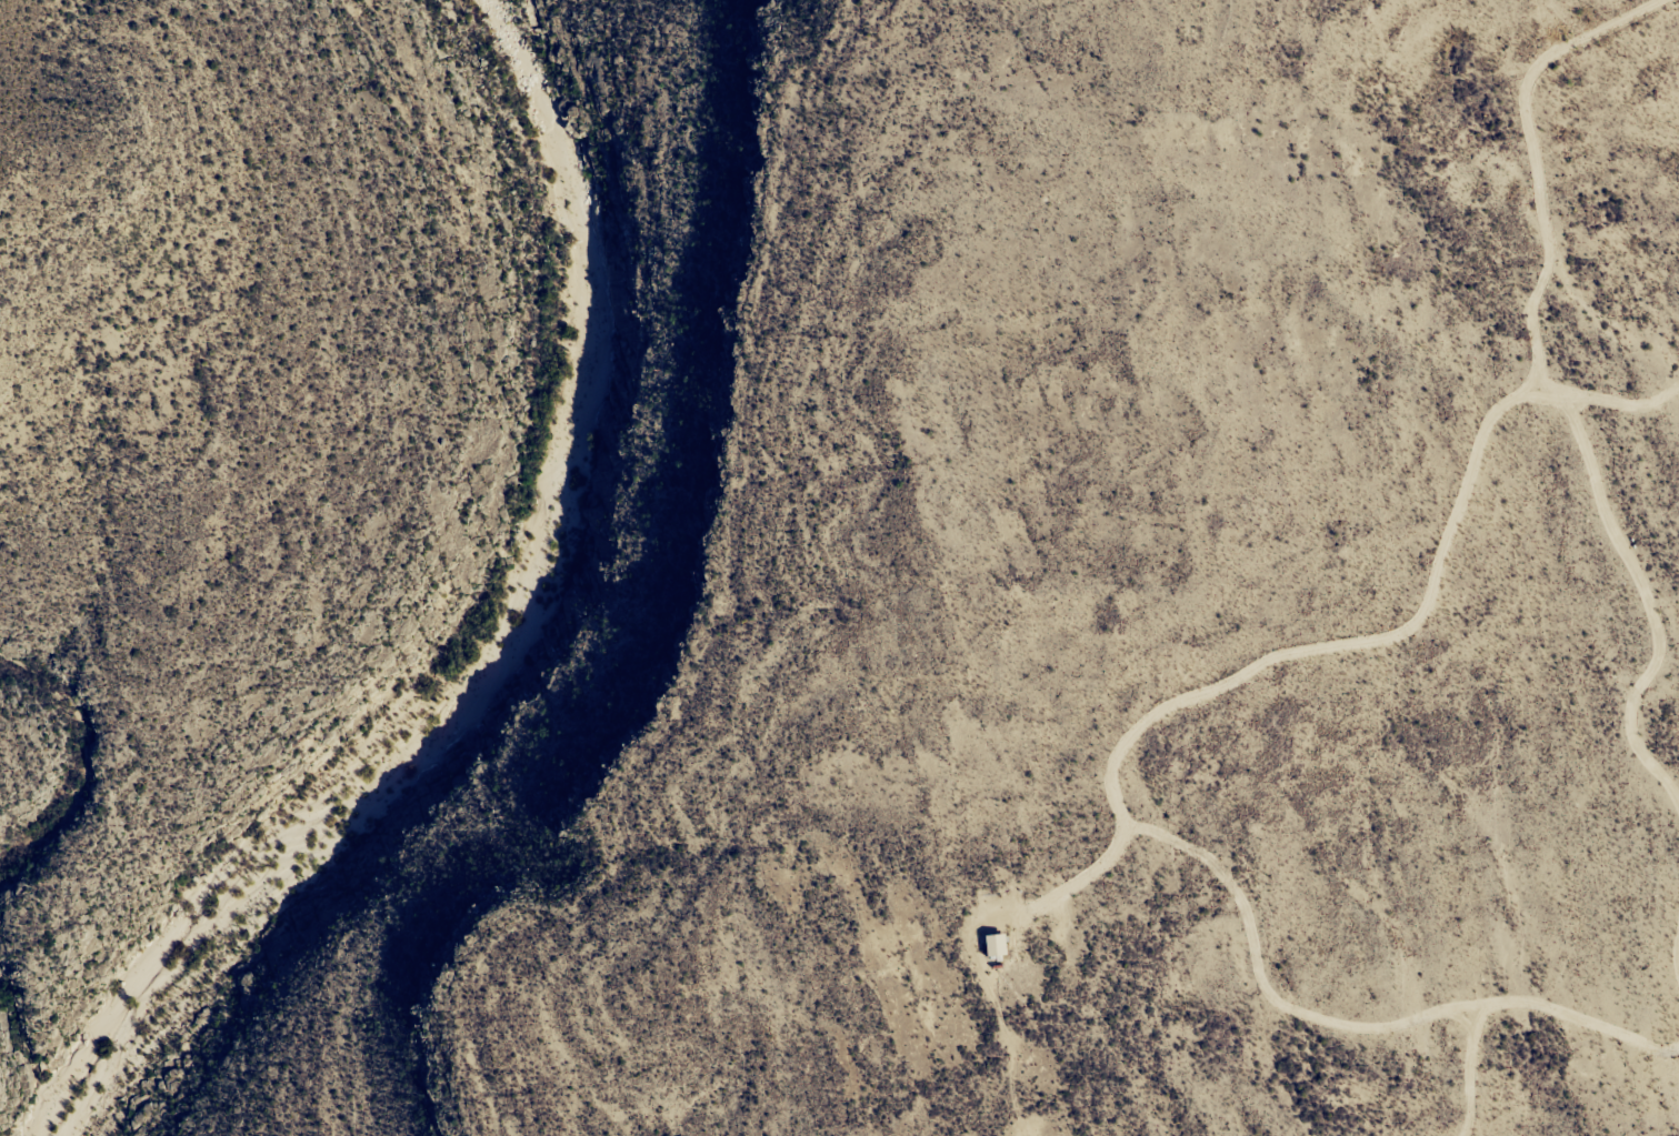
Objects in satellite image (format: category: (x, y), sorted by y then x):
building: (999, 947)

